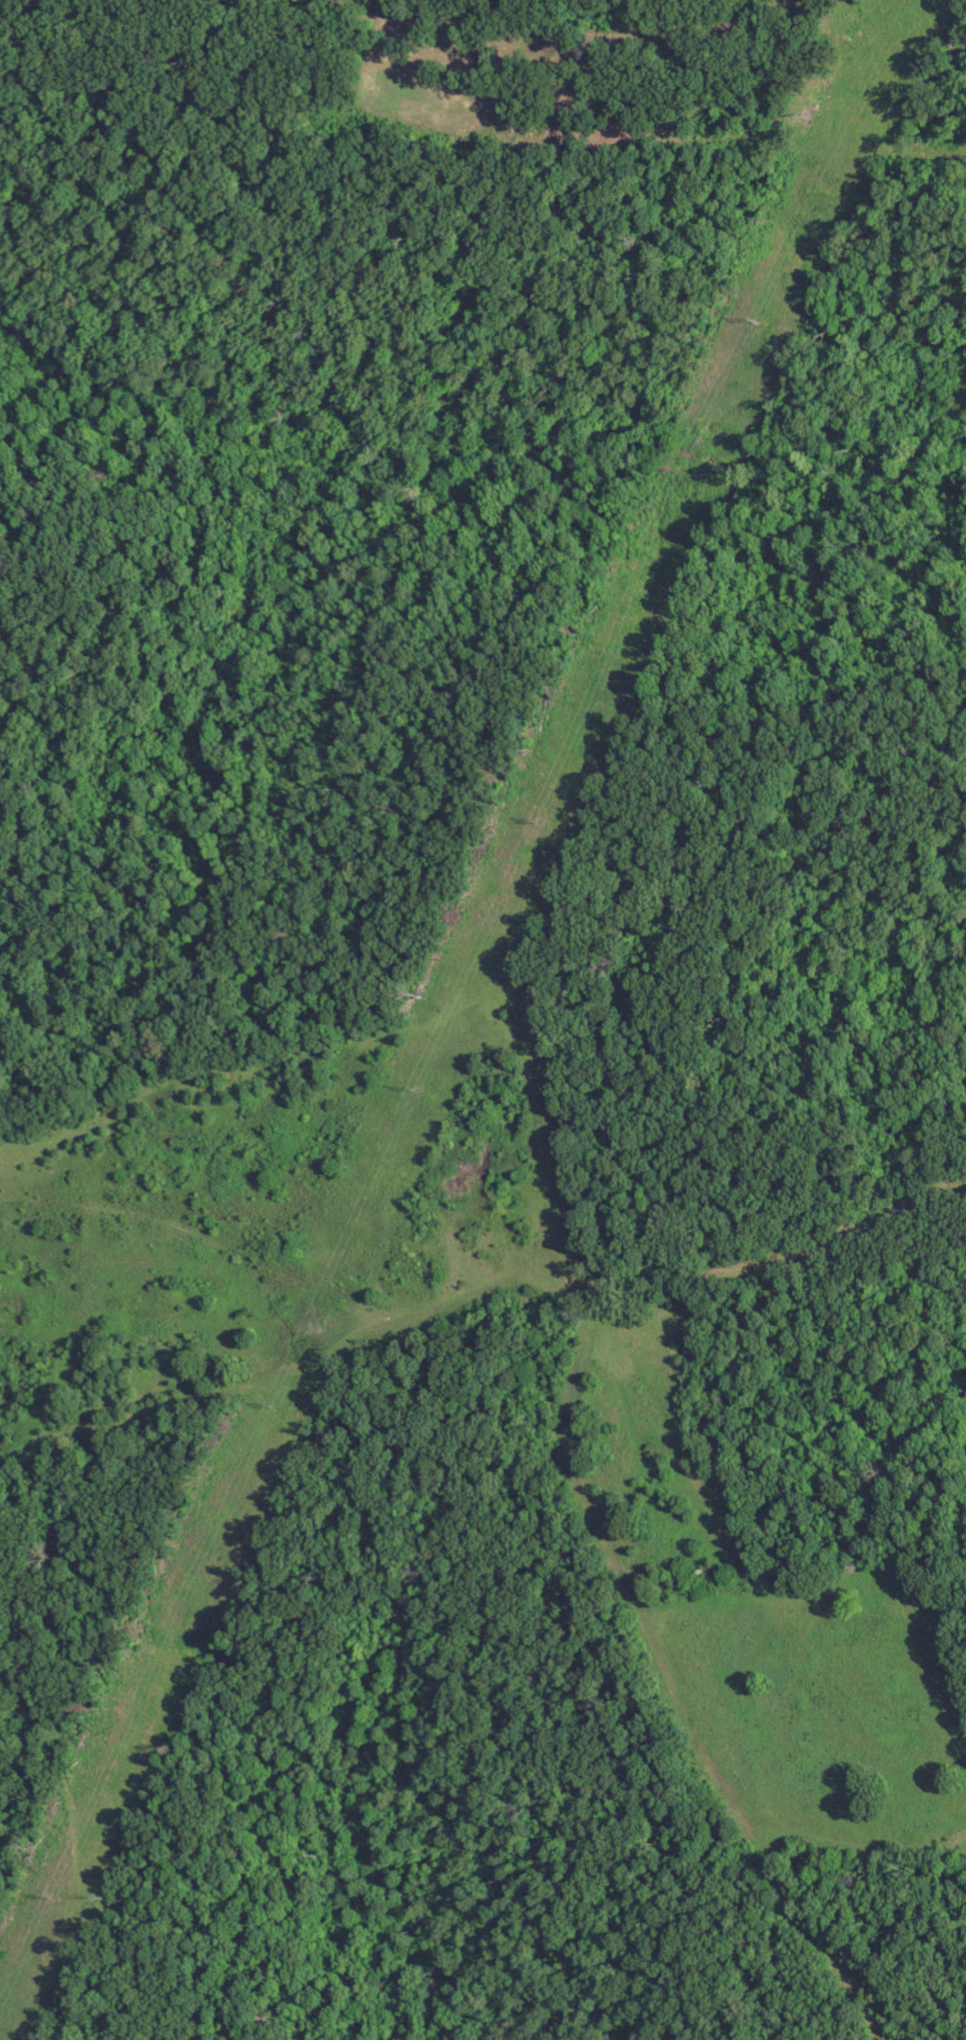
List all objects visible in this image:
road: (781, 1311)

